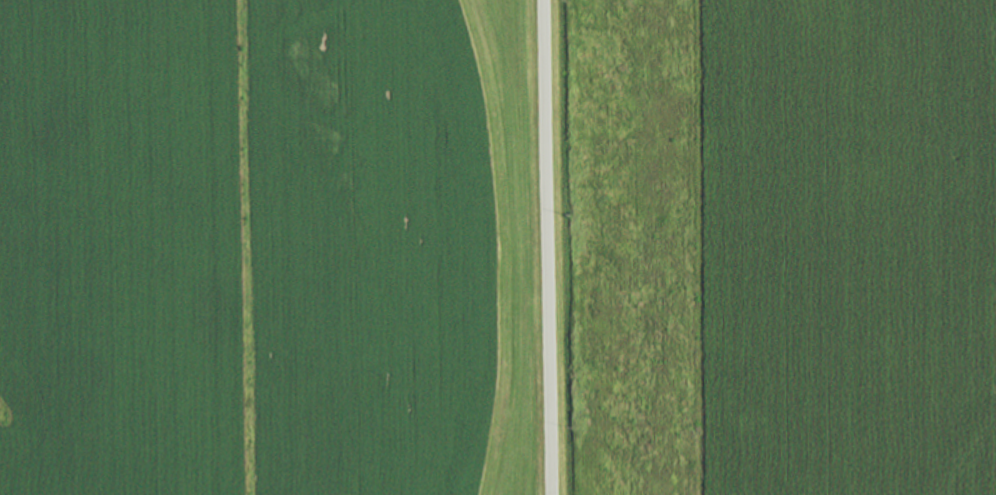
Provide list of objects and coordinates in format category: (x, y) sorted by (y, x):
road: (533, 247)

